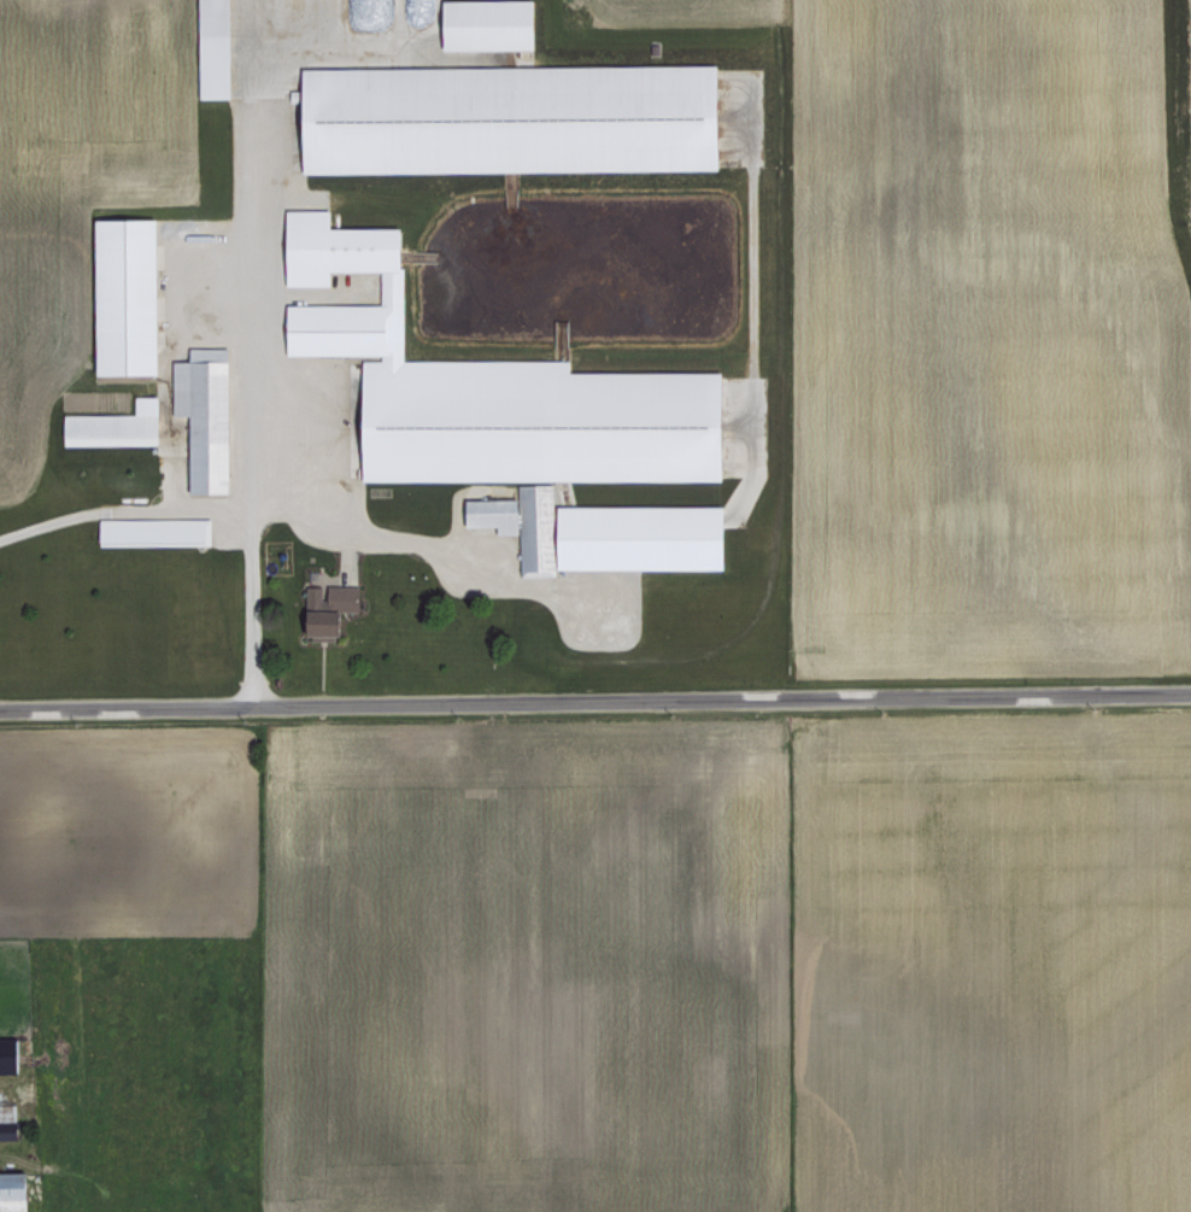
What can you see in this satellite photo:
building: (477, 23)
building: (205, 47)
building: (499, 116)
building: (1190, 317)
road: (250, 352)
building: (481, 387)
building: (198, 414)
building: (107, 425)
road: (123, 507)
building: (148, 528)
building: (595, 531)
building: (319, 608)
road: (594, 701)
building: (6, 1120)
building: (12, 1191)

